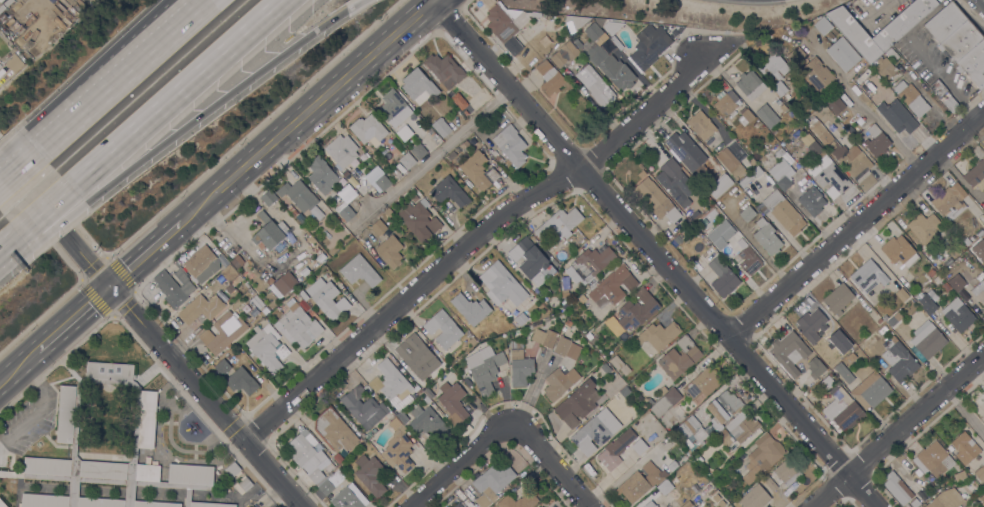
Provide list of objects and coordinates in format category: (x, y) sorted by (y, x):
road: (465, 1)
road: (353, 4)
building: (535, 14)
building: (576, 21)
building: (504, 23)
building: (823, 25)
building: (898, 26)
building: (959, 41)
building: (577, 43)
building: (648, 48)
building: (564, 53)
building: (843, 54)
building: (891, 54)
building: (796, 55)
building: (607, 60)
building: (13, 62)
building: (0, 65)
building: (773, 65)
building: (884, 68)
building: (444, 69)
building: (817, 74)
road: (106, 76)
road: (126, 76)
building: (549, 78)
road: (943, 78)
building: (595, 85)
building: (750, 85)
building: (418, 86)
building: (779, 88)
building: (938, 88)
road: (178, 93)
building: (786, 97)
building: (911, 98)
building: (459, 100)
building: (725, 102)
building: (951, 104)
road: (216, 105)
building: (836, 105)
building: (783, 107)
building: (392, 108)
road: (862, 108)
building: (448, 109)
road: (307, 112)
building: (746, 114)
building: (767, 116)
building: (896, 116)
building: (701, 125)
building: (441, 127)
road: (254, 129)
building: (368, 130)
building: (403, 133)
building: (432, 134)
building: (823, 135)
building: (873, 140)
building: (510, 145)
building: (814, 148)
building: (684, 149)
building: (342, 150)
building: (418, 151)
building: (778, 153)
road: (435, 155)
building: (498, 158)
building: (407, 161)
building: (752, 162)
building: (731, 163)
building: (854, 163)
road: (20, 168)
building: (478, 170)
building: (396, 173)
building: (641, 174)
building: (782, 174)
building: (322, 175)
building: (975, 175)
building: (829, 176)
building: (378, 178)
building: (748, 178)
building: (675, 183)
building: (719, 185)
building: (346, 187)
building: (449, 191)
building: (301, 197)
building: (268, 198)
building: (656, 200)
building: (811, 201)
building: (950, 202)
road: (45, 210)
building: (344, 211)
building: (388, 212)
building: (783, 212)
building: (296, 214)
building: (694, 214)
building: (747, 214)
building: (419, 220)
road: (58, 224)
building: (397, 224)
building: (559, 224)
road: (854, 224)
building: (378, 227)
building: (925, 227)
building: (269, 232)
building: (979, 233)
building: (729, 234)
building: (767, 237)
road: (475, 238)
road: (9, 241)
building: (966, 242)
road: (15, 248)
building: (978, 250)
building: (390, 251)
building: (899, 251)
building: (319, 253)
road: (144, 255)
road: (652, 256)
building: (237, 261)
building: (531, 261)
building: (748, 261)
building: (315, 263)
building: (592, 263)
building: (201, 264)
building: (359, 271)
building: (931, 273)
building: (722, 274)
building: (230, 275)
building: (868, 276)
building: (285, 283)
building: (565, 283)
building: (957, 283)
building: (502, 284)
building: (613, 285)
building: (174, 287)
building: (946, 287)
building: (228, 288)
building: (979, 291)
building: (901, 294)
building: (303, 295)
building: (327, 298)
building: (838, 299)
building: (926, 303)
building: (201, 308)
building: (471, 308)
building: (637, 310)
building: (264, 311)
building: (958, 315)
road: (40, 316)
road: (73, 319)
building: (521, 319)
building: (890, 321)
building: (173, 323)
building: (568, 323)
building: (812, 325)
building: (298, 326)
building: (443, 328)
building: (223, 332)
road: (150, 334)
building: (543, 335)
building: (589, 335)
building: (658, 335)
building: (840, 337)
building: (927, 339)
building: (472, 341)
building: (562, 346)
building: (267, 348)
building: (573, 351)
building: (789, 352)
building: (417, 356)
building: (680, 358)
building: (898, 360)
building: (616, 362)
building: (519, 365)
road: (18, 367)
building: (222, 367)
building: (484, 368)
building: (817, 368)
building: (625, 370)
building: (109, 371)
building: (844, 372)
building: (241, 381)
building: (393, 382)
building: (467, 382)
building: (559, 383)
building: (621, 383)
building: (701, 385)
building: (417, 390)
building: (662, 390)
building: (871, 390)
building: (428, 393)
building: (426, 399)
building: (453, 400)
building: (650, 402)
building: (665, 402)
building: (576, 404)
road: (37, 405)
building: (363, 407)
building: (723, 408)
building: (394, 410)
building: (842, 410)
road: (962, 411)
building: (341, 413)
building: (983, 413)
building: (66, 414)
building: (402, 417)
building: (147, 419)
building: (427, 423)
building: (742, 427)
building: (691, 429)
road: (896, 429)
building: (333, 430)
building: (592, 432)
building: (367, 436)
building: (724, 438)
building: (965, 447)
building: (398, 448)
building: (691, 449)
building: (107, 454)
building: (308, 454)
building: (611, 455)
building: (762, 457)
building: (337, 458)
building: (933, 459)
road: (462, 464)
road: (551, 464)
building: (46, 466)
building: (330, 466)
building: (672, 466)
building: (232, 470)
building: (147, 472)
building: (787, 472)
building: (980, 472)
building: (190, 473)
building: (370, 474)
building: (960, 476)
building: (244, 482)
building: (331, 482)
building: (640, 482)
building: (492, 484)
building: (770, 484)
building: (983, 485)
building: (664, 487)
building: (897, 488)
building: (349, 497)
building: (982, 498)
building: (946, 499)
building: (518, 501)
building: (915, 502)
building: (2, 504)
building: (650, 504)
building: (686, 504)
building: (210, 505)
building: (458, 505)
building: (538, 506)
building: (540, 506)

